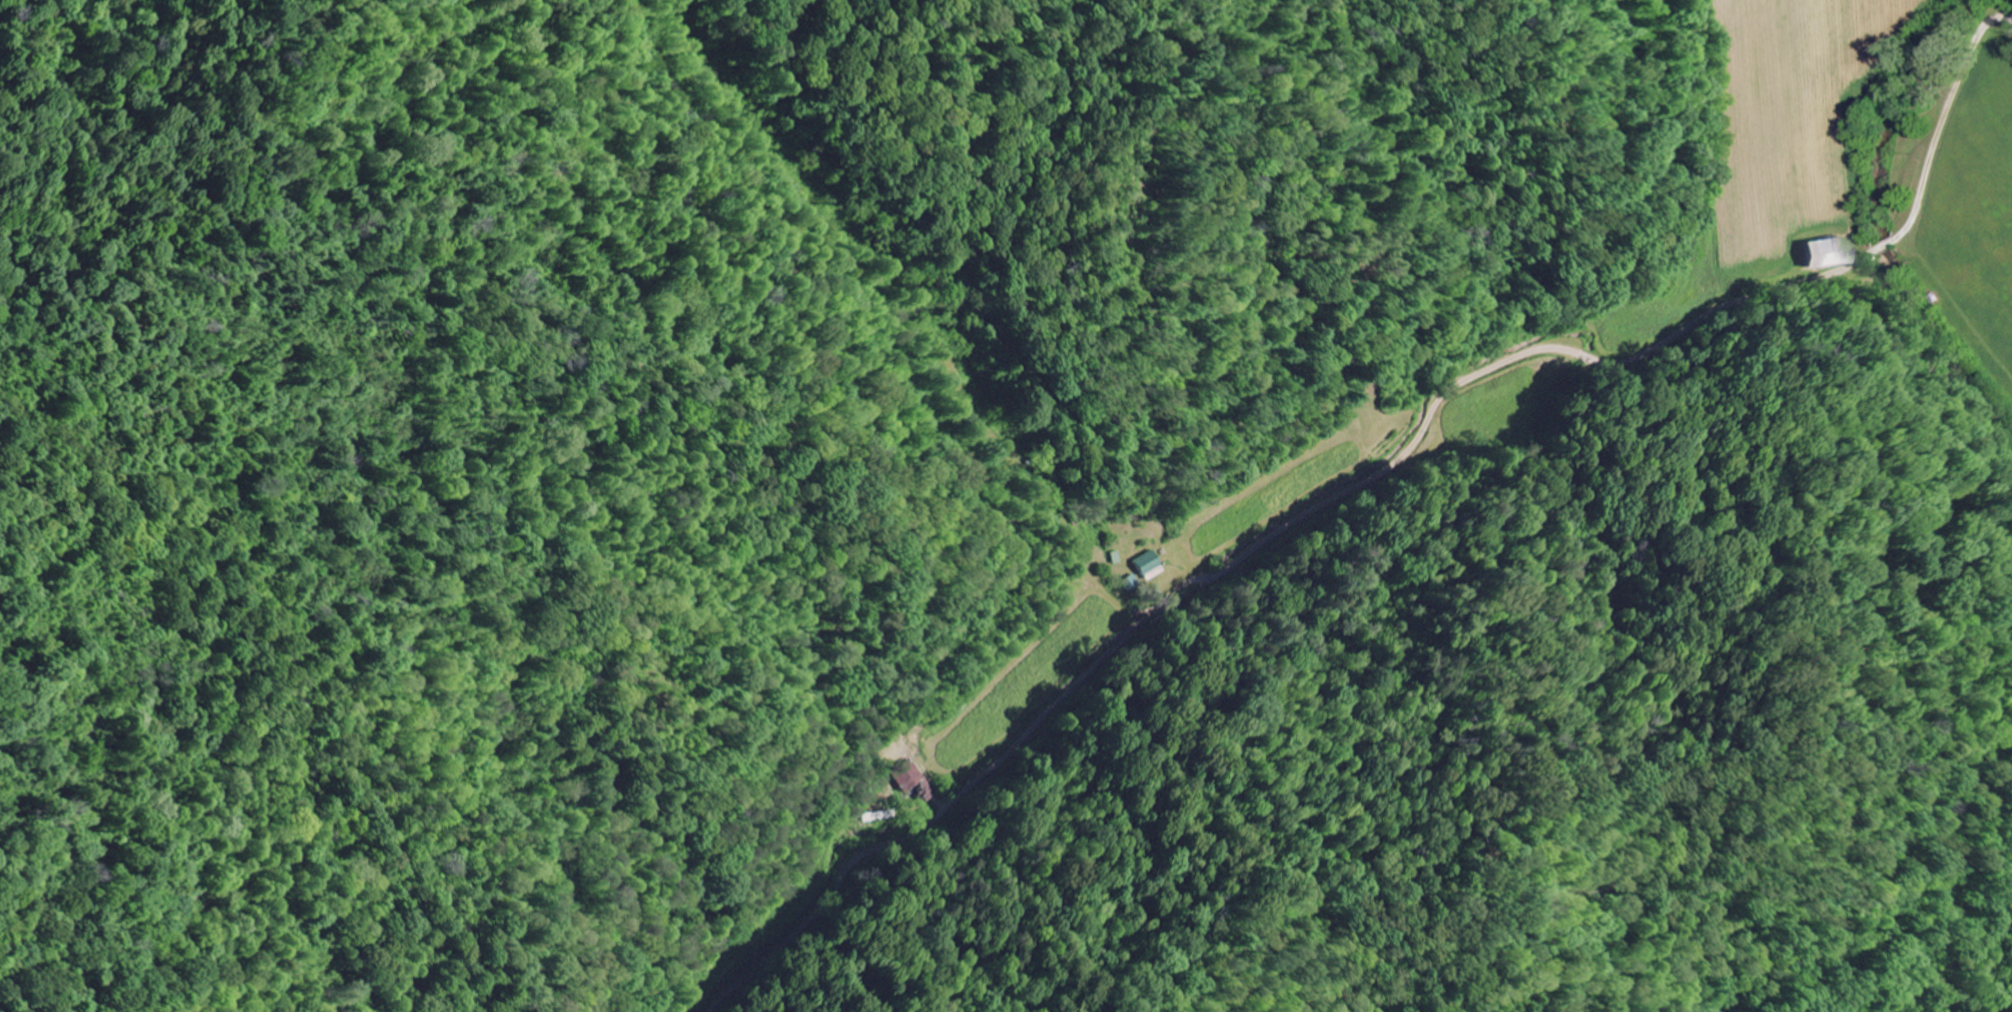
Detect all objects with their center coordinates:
road: (1375, 481)
building: (906, 776)

